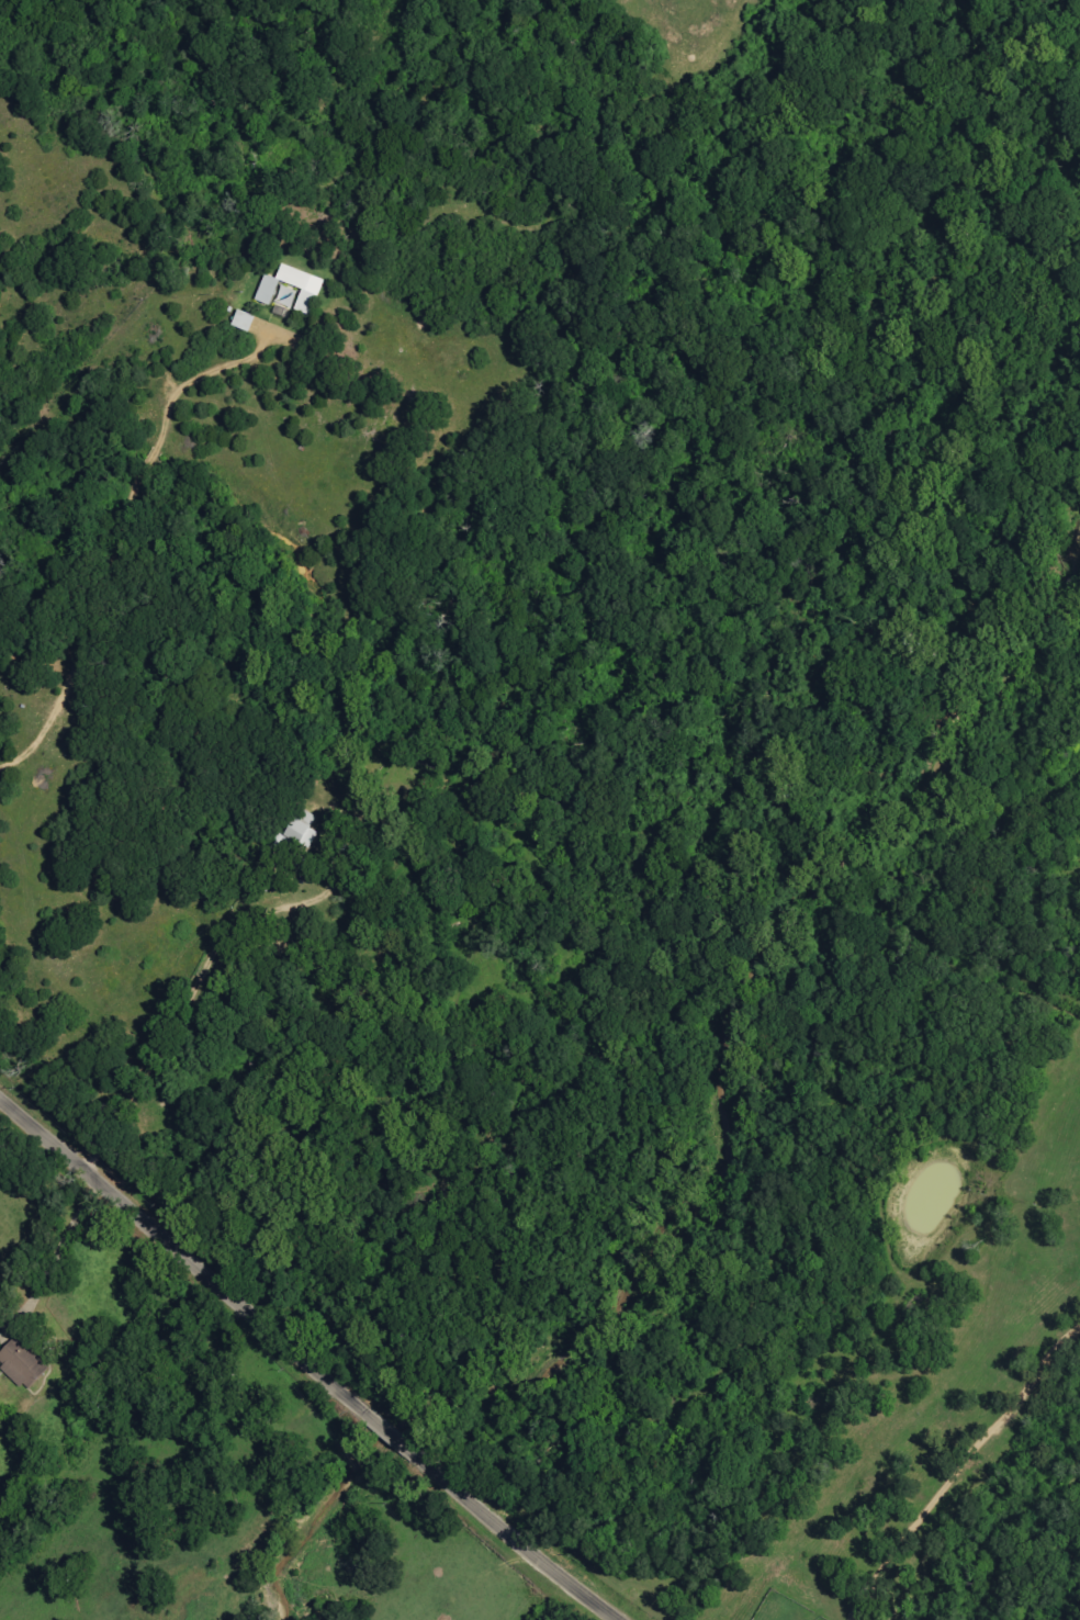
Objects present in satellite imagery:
building: (306, 285)
road: (125, 538)
building: (297, 836)
road: (66, 1226)
road: (196, 1258)
building: (21, 1364)
road: (959, 1465)
road: (497, 1528)

